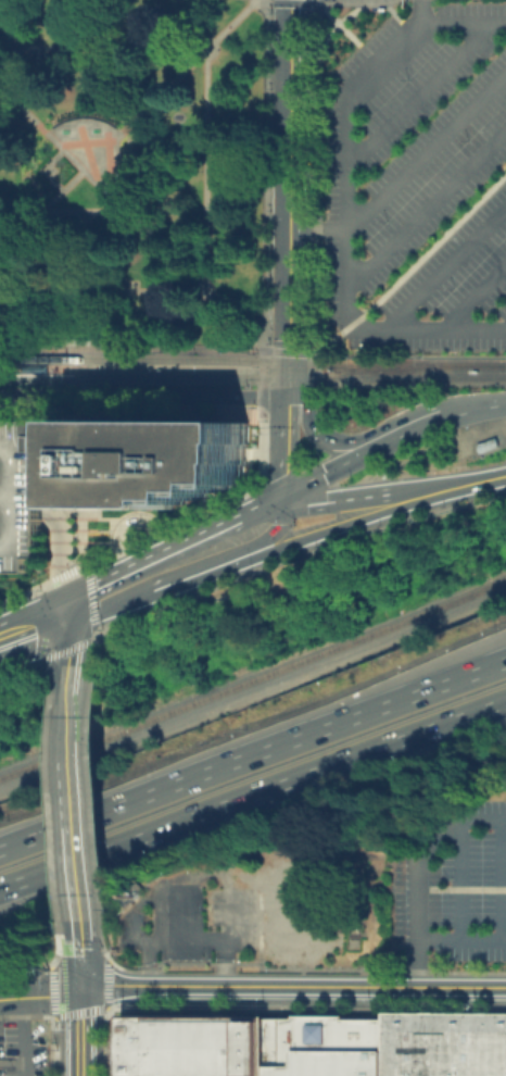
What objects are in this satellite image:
road: (317, 0)
road: (267, 1)
road: (314, 1)
road: (290, 2)
road: (380, 4)
road: (392, 10)
road: (418, 10)
road: (351, 12)
road: (461, 20)
road: (337, 22)
road: (418, 91)
road: (130, 124)
road: (316, 140)
road: (427, 147)
fountain: (87, 151)
road: (45, 170)
road: (206, 170)
road: (249, 171)
park: (130, 172)
parking lot: (413, 176)
road: (124, 184)
road: (290, 185)
road: (427, 201)
road: (83, 210)
road: (130, 215)
road: (349, 235)
road: (412, 262)
road: (446, 263)
road: (476, 292)
road: (140, 328)
road: (36, 334)
traffic signals: (290, 339)
railway: (67, 349)
road: (169, 349)
road: (289, 349)
road: (39, 350)
road: (412, 355)
railway: (253, 360)
road: (39, 368)
railway: (72, 368)
road: (169, 368)
road: (79, 371)
railway: (382, 371)
road: (261, 377)
railway: (299, 377)
railway: (45, 378)
road: (143, 393)
traffic signals: (254, 395)
traffic signals: (288, 402)
traffic signals: (300, 402)
road: (475, 408)
road: (313, 424)
road: (405, 431)
road: (288, 437)
building: (154, 460)
building: (58, 463)
road: (321, 473)
road: (466, 484)
building: (18, 491)
parking lot: (18, 491)
road: (353, 495)
traffic signals: (281, 504)
road: (258, 510)
road: (130, 521)
road: (344, 523)
road: (277, 529)
road: (143, 555)
road: (61, 556)
road: (288, 558)
road: (164, 586)
traffic signals: (67, 615)
road: (34, 626)
road: (72, 633)
road: (76, 656)
railway: (253, 677)
road: (76, 689)
road: (253, 692)
road: (77, 734)
road: (253, 754)
road: (77, 789)
road: (99, 790)
road: (253, 792)
road: (77, 872)
road: (417, 874)
road: (504, 881)
road: (461, 884)
parking lot: (453, 889)
road: (461, 941)
road: (78, 954)
road: (292, 986)
traffic signals: (79, 991)
road: (39, 997)
road: (79, 1033)
road: (23, 1037)
building: (315, 1044)
parking lot: (22, 1051)

